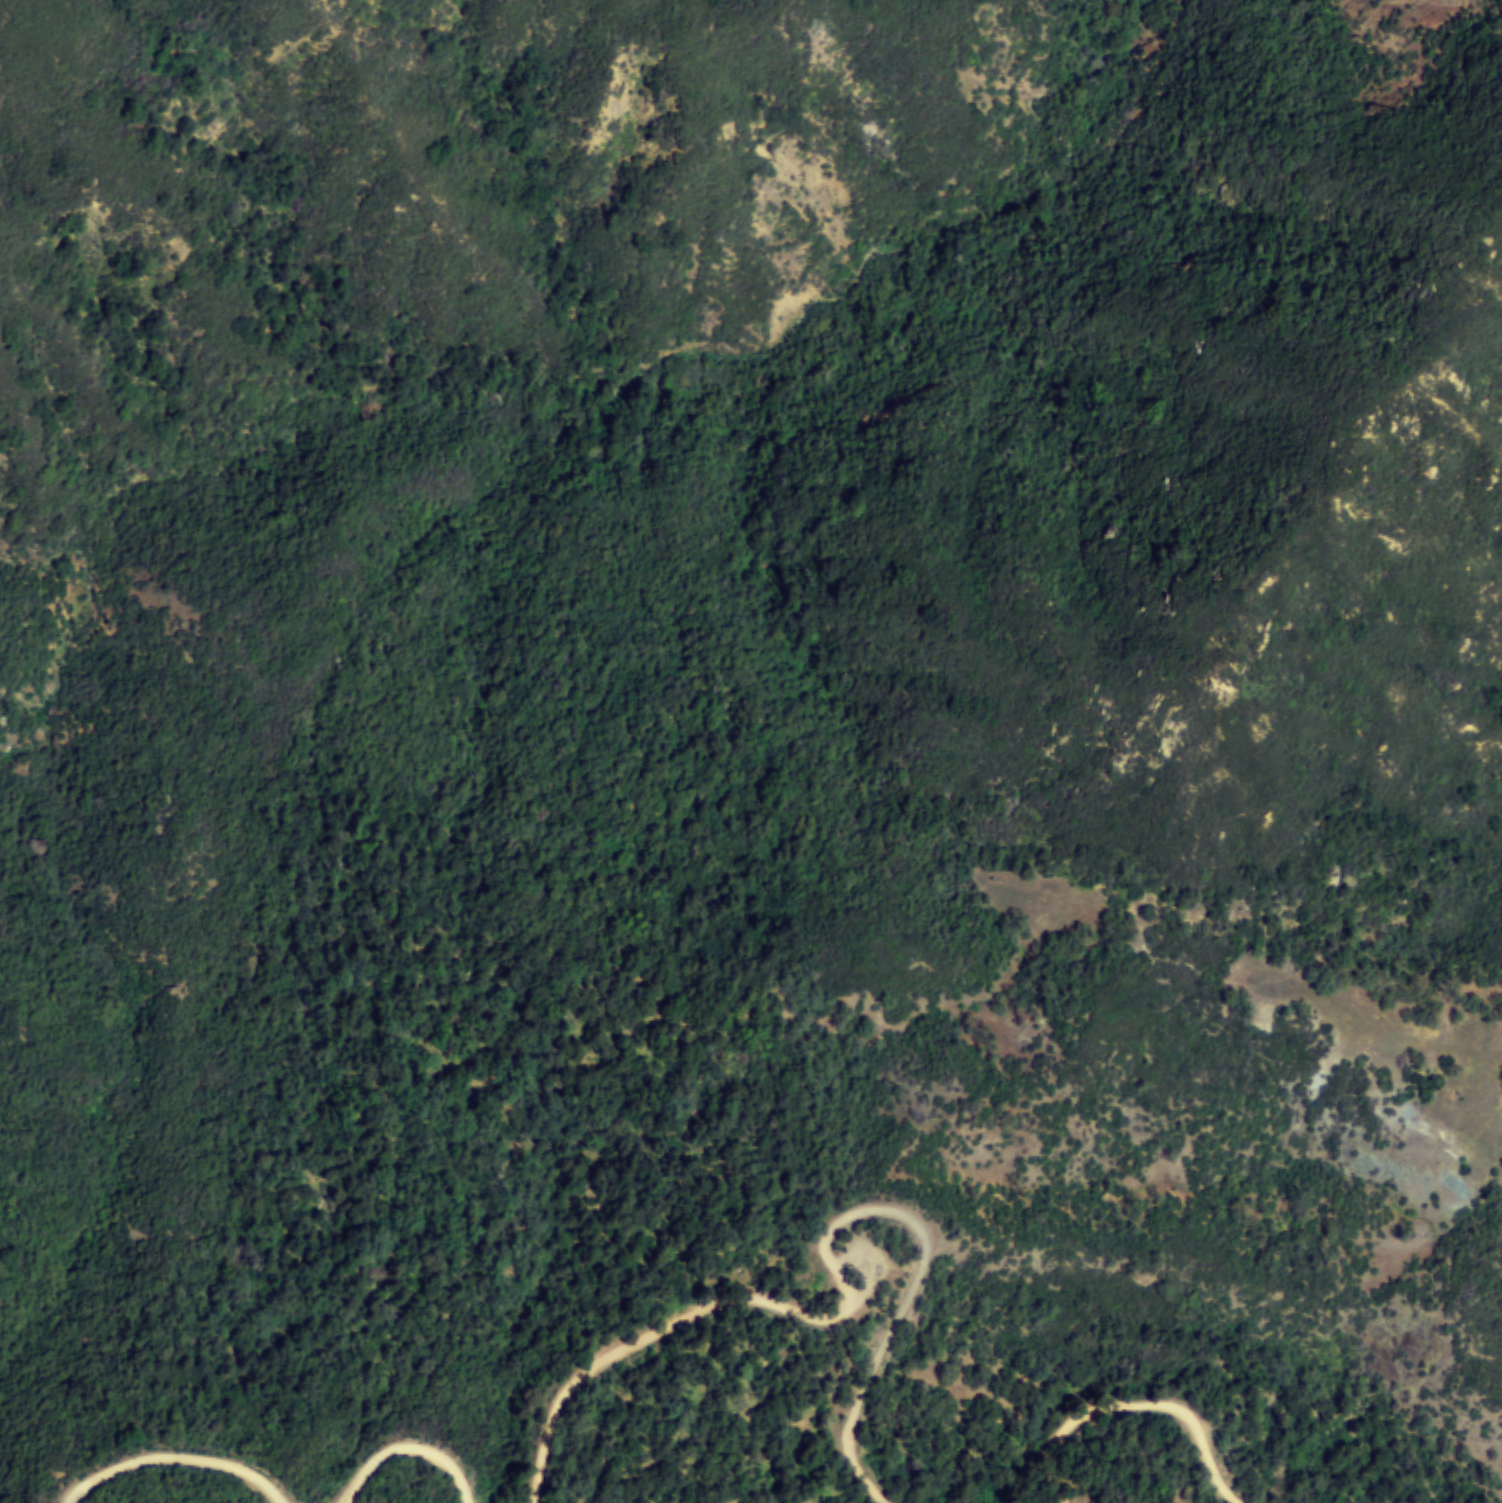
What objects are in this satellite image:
road: (839, 1281)
road: (1134, 1407)
road: (407, 1448)
road: (176, 1460)

